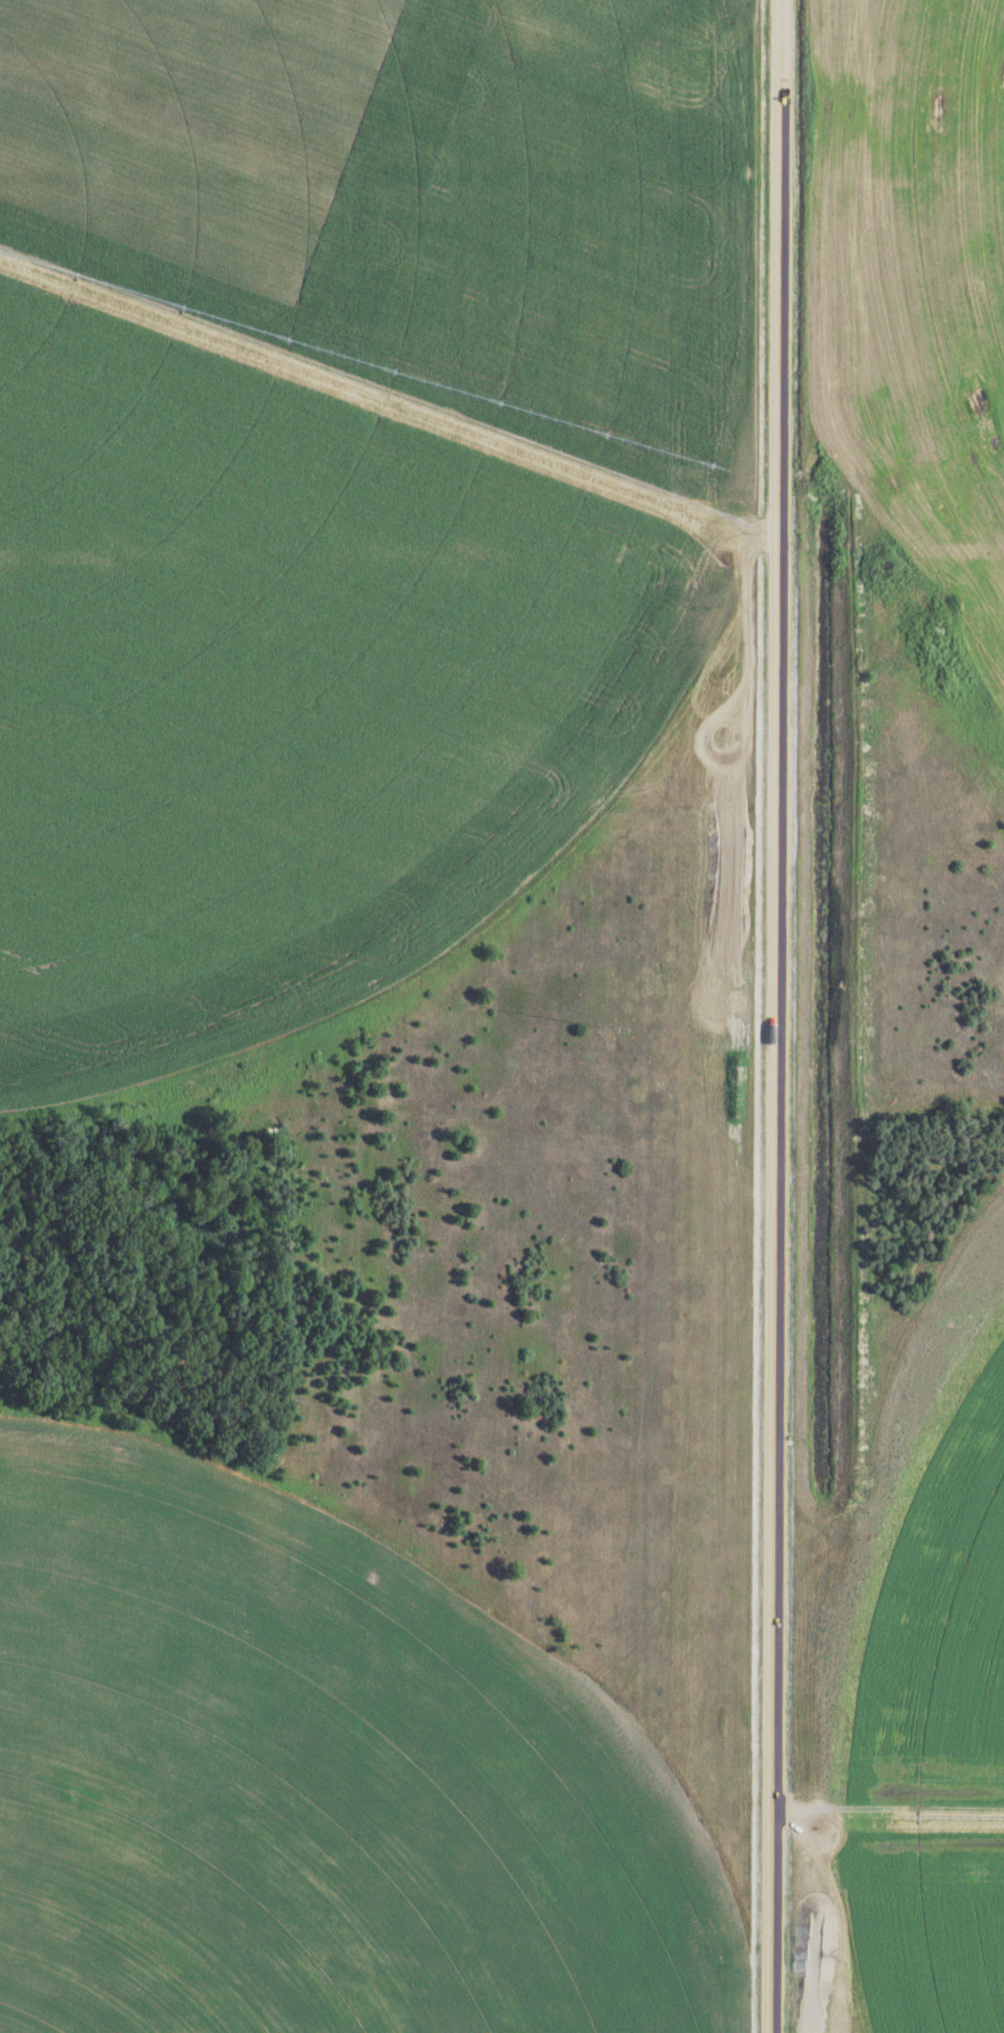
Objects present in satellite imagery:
wastewater plant: (502, 1016)
crop: (915, 1695)
crop: (314, 1783)

